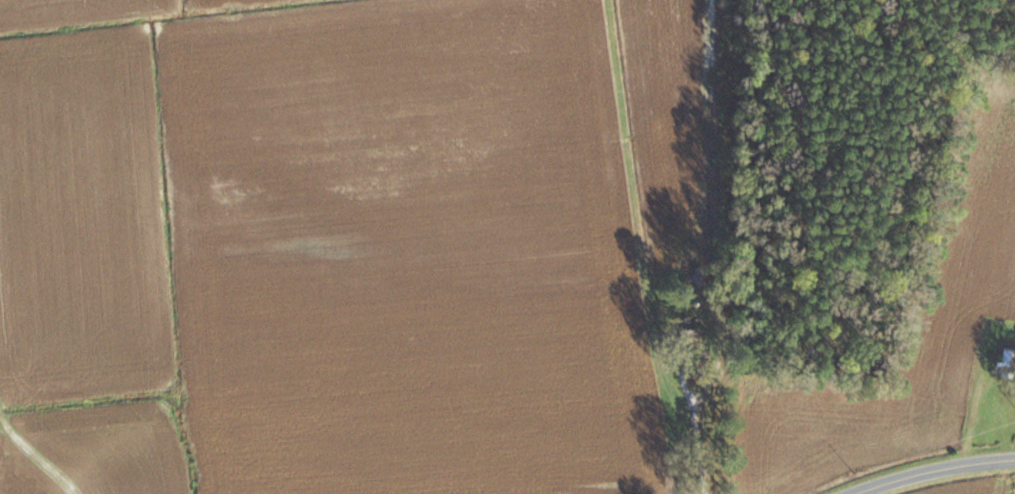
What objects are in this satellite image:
road: (697, 422)
road: (925, 468)

